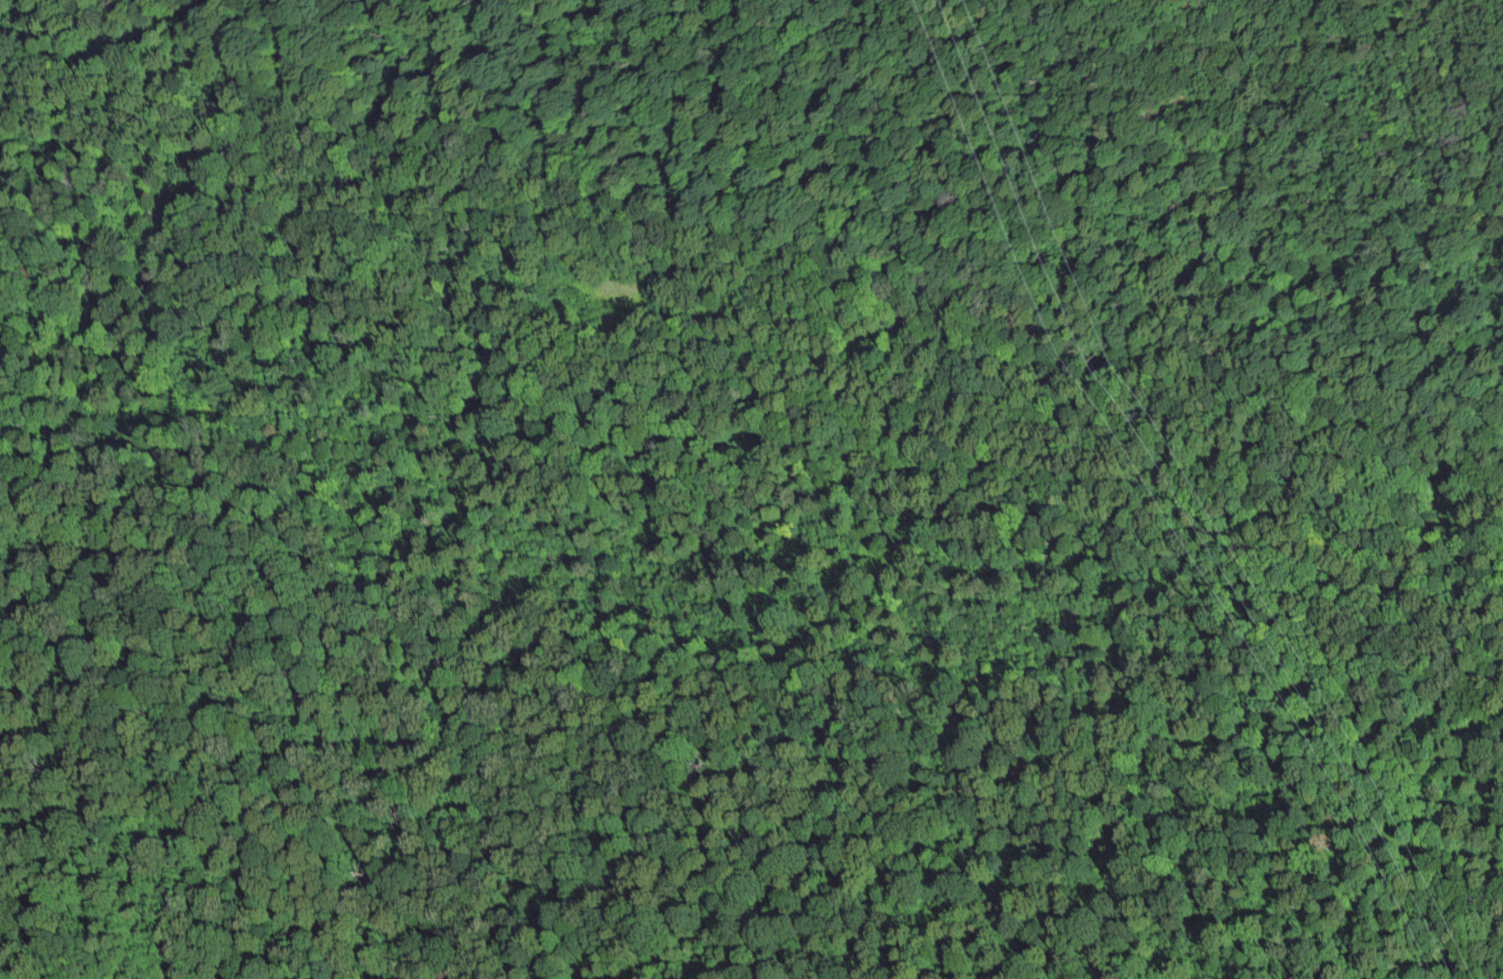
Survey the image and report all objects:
road: (182, 941)

